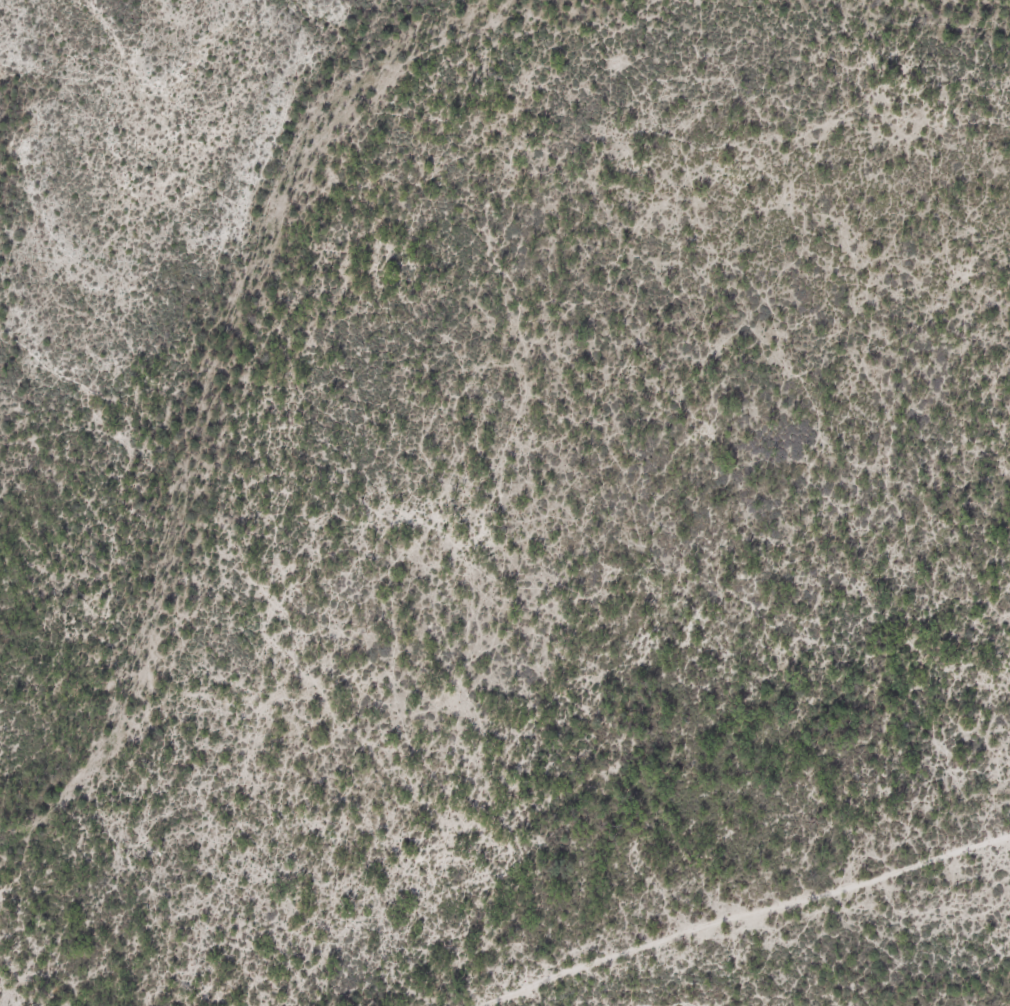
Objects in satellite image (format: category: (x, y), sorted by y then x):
road: (746, 918)

